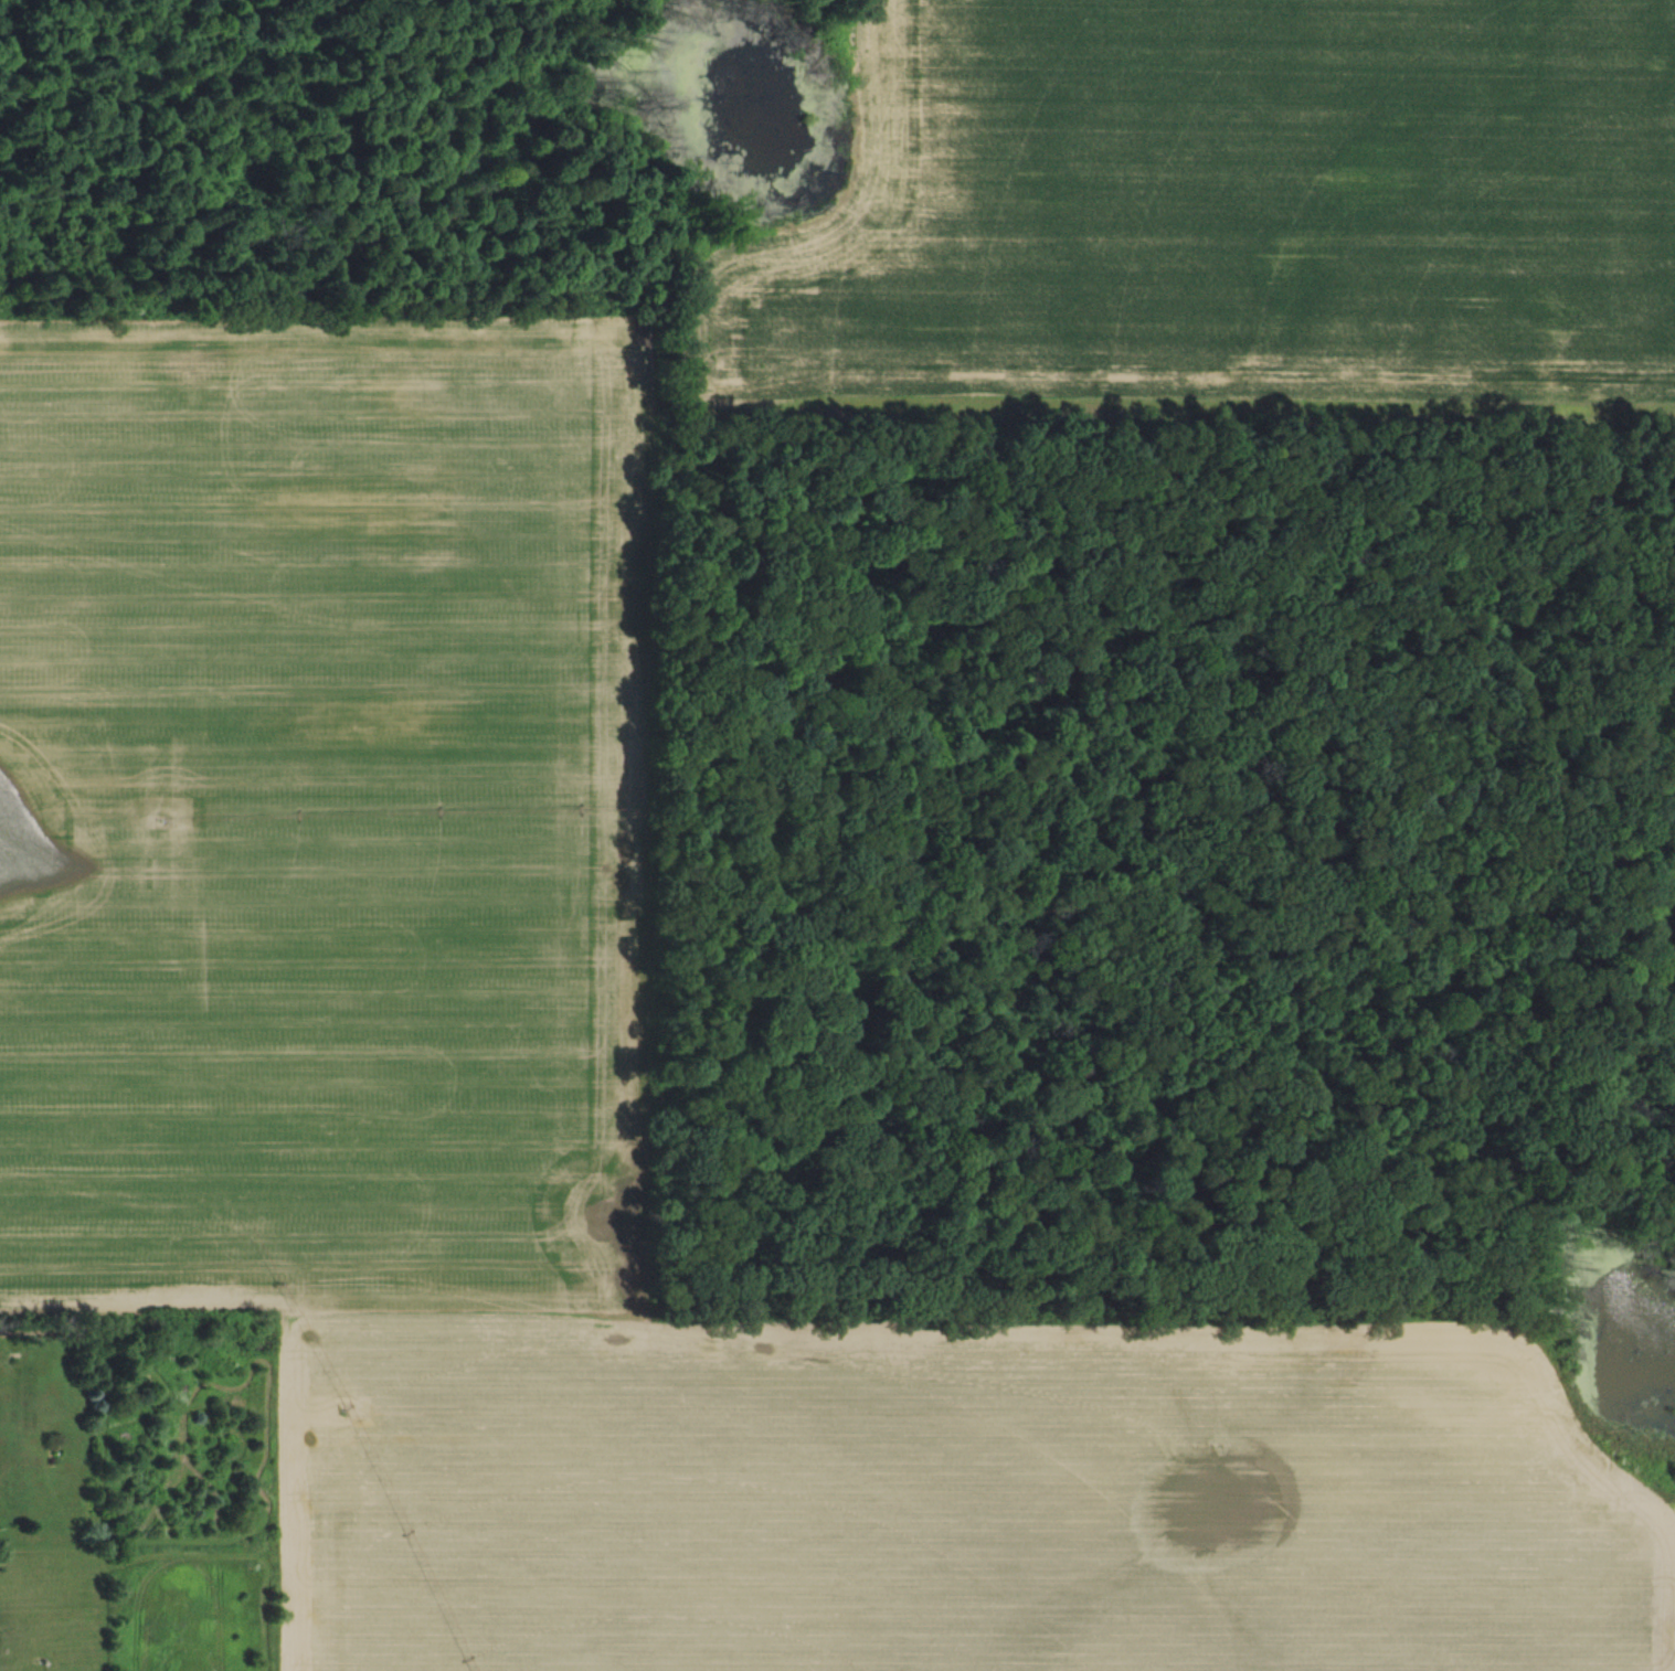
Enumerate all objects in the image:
crop: (1221, 206)
crop: (316, 808)
crop: (955, 1498)

